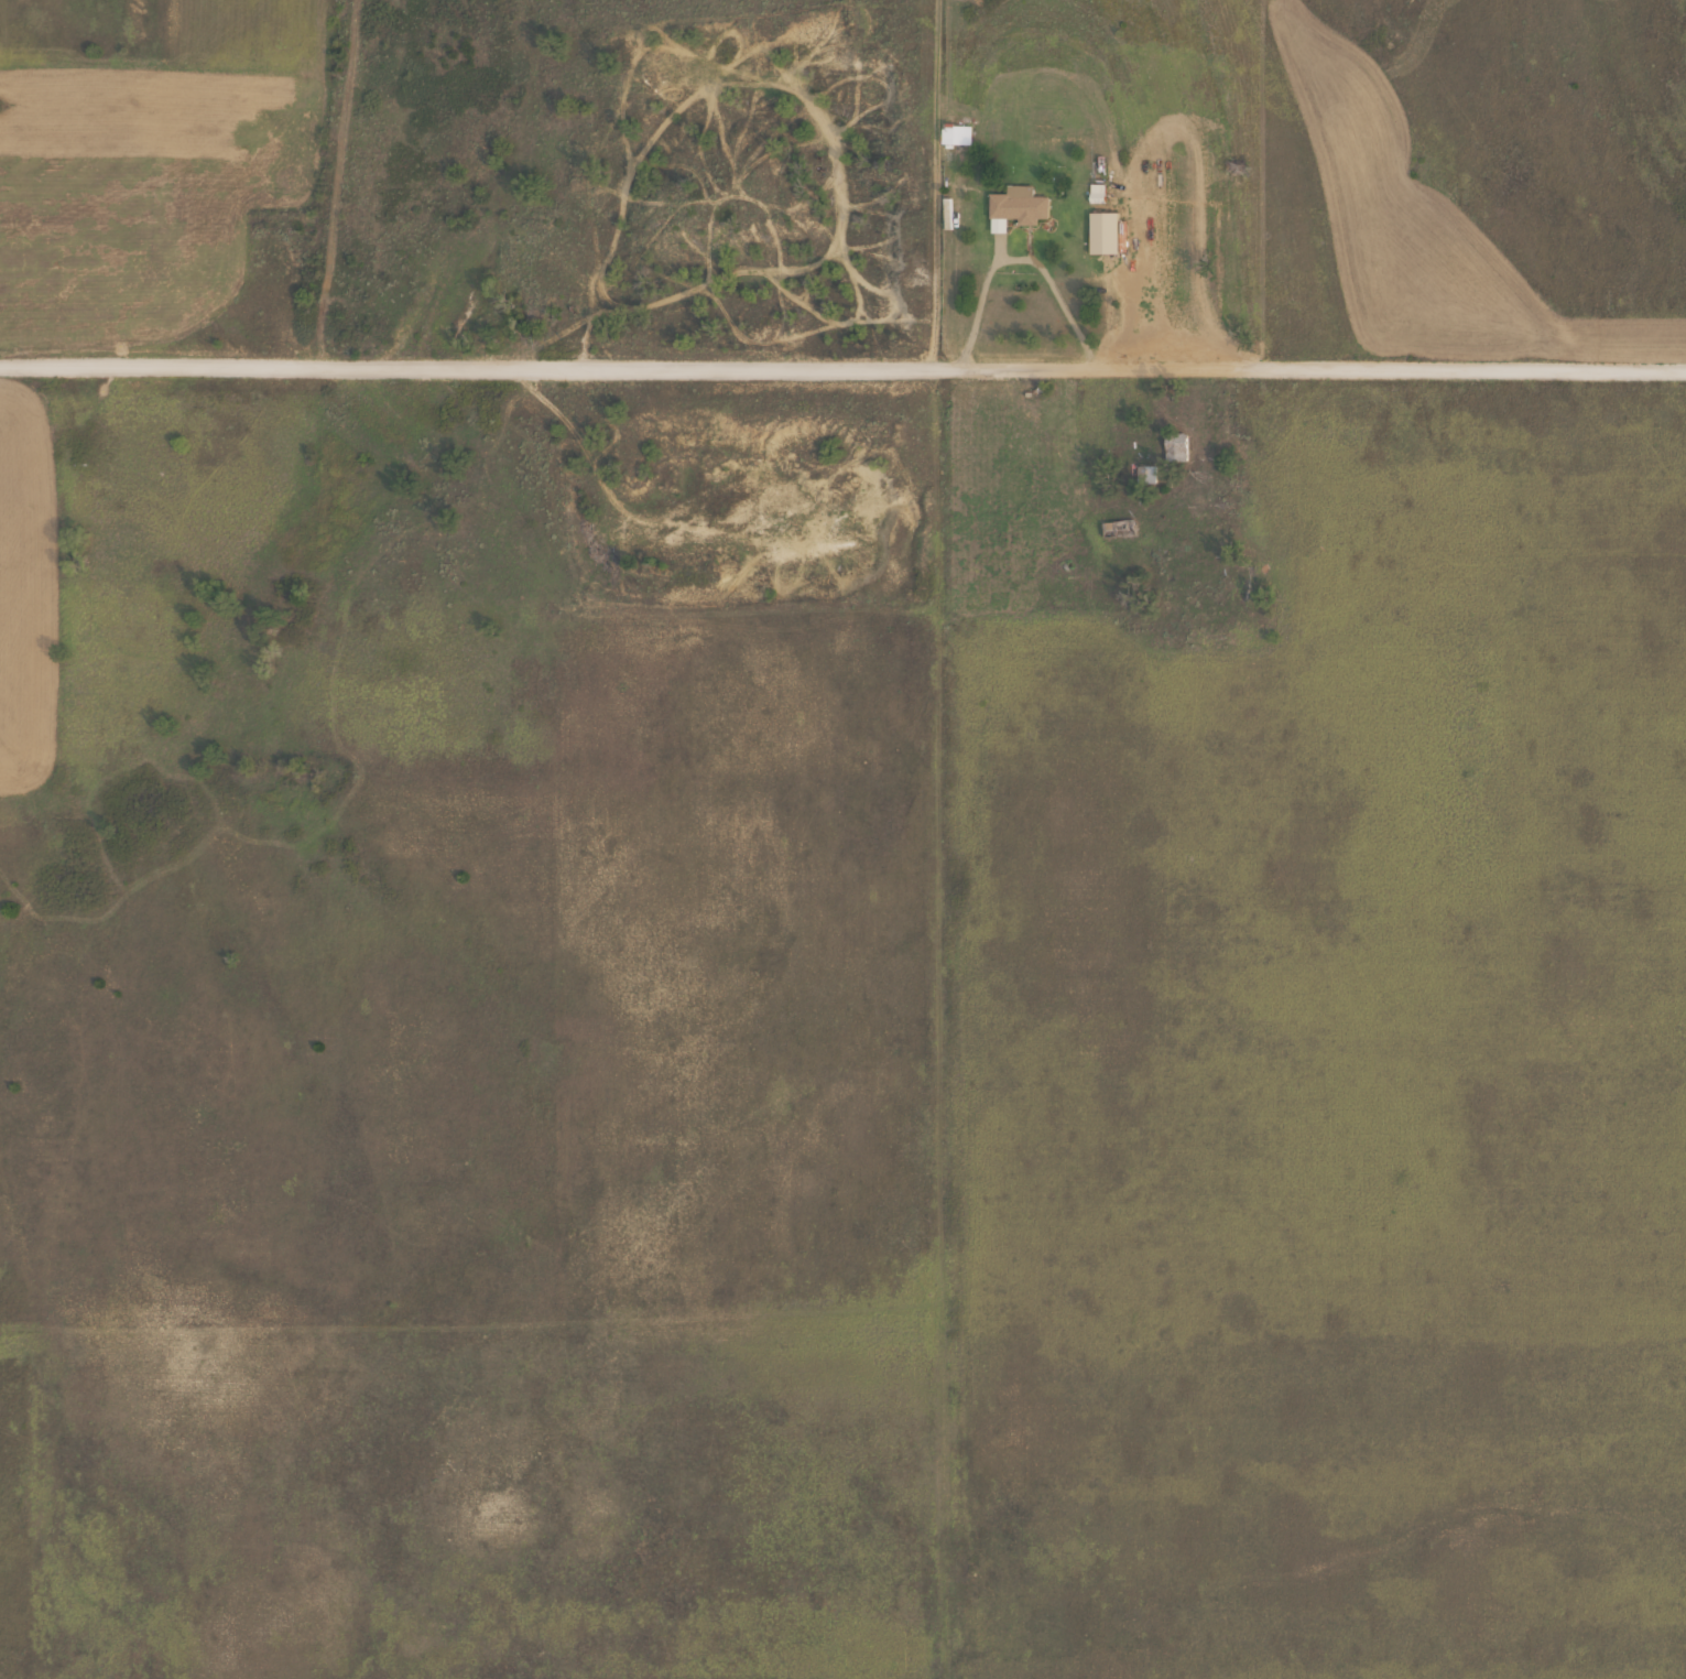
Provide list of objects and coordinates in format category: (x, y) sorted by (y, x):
building: (953, 133)
building: (1013, 206)
road: (842, 369)
building: (1173, 447)
building: (1143, 476)
building: (1116, 528)

